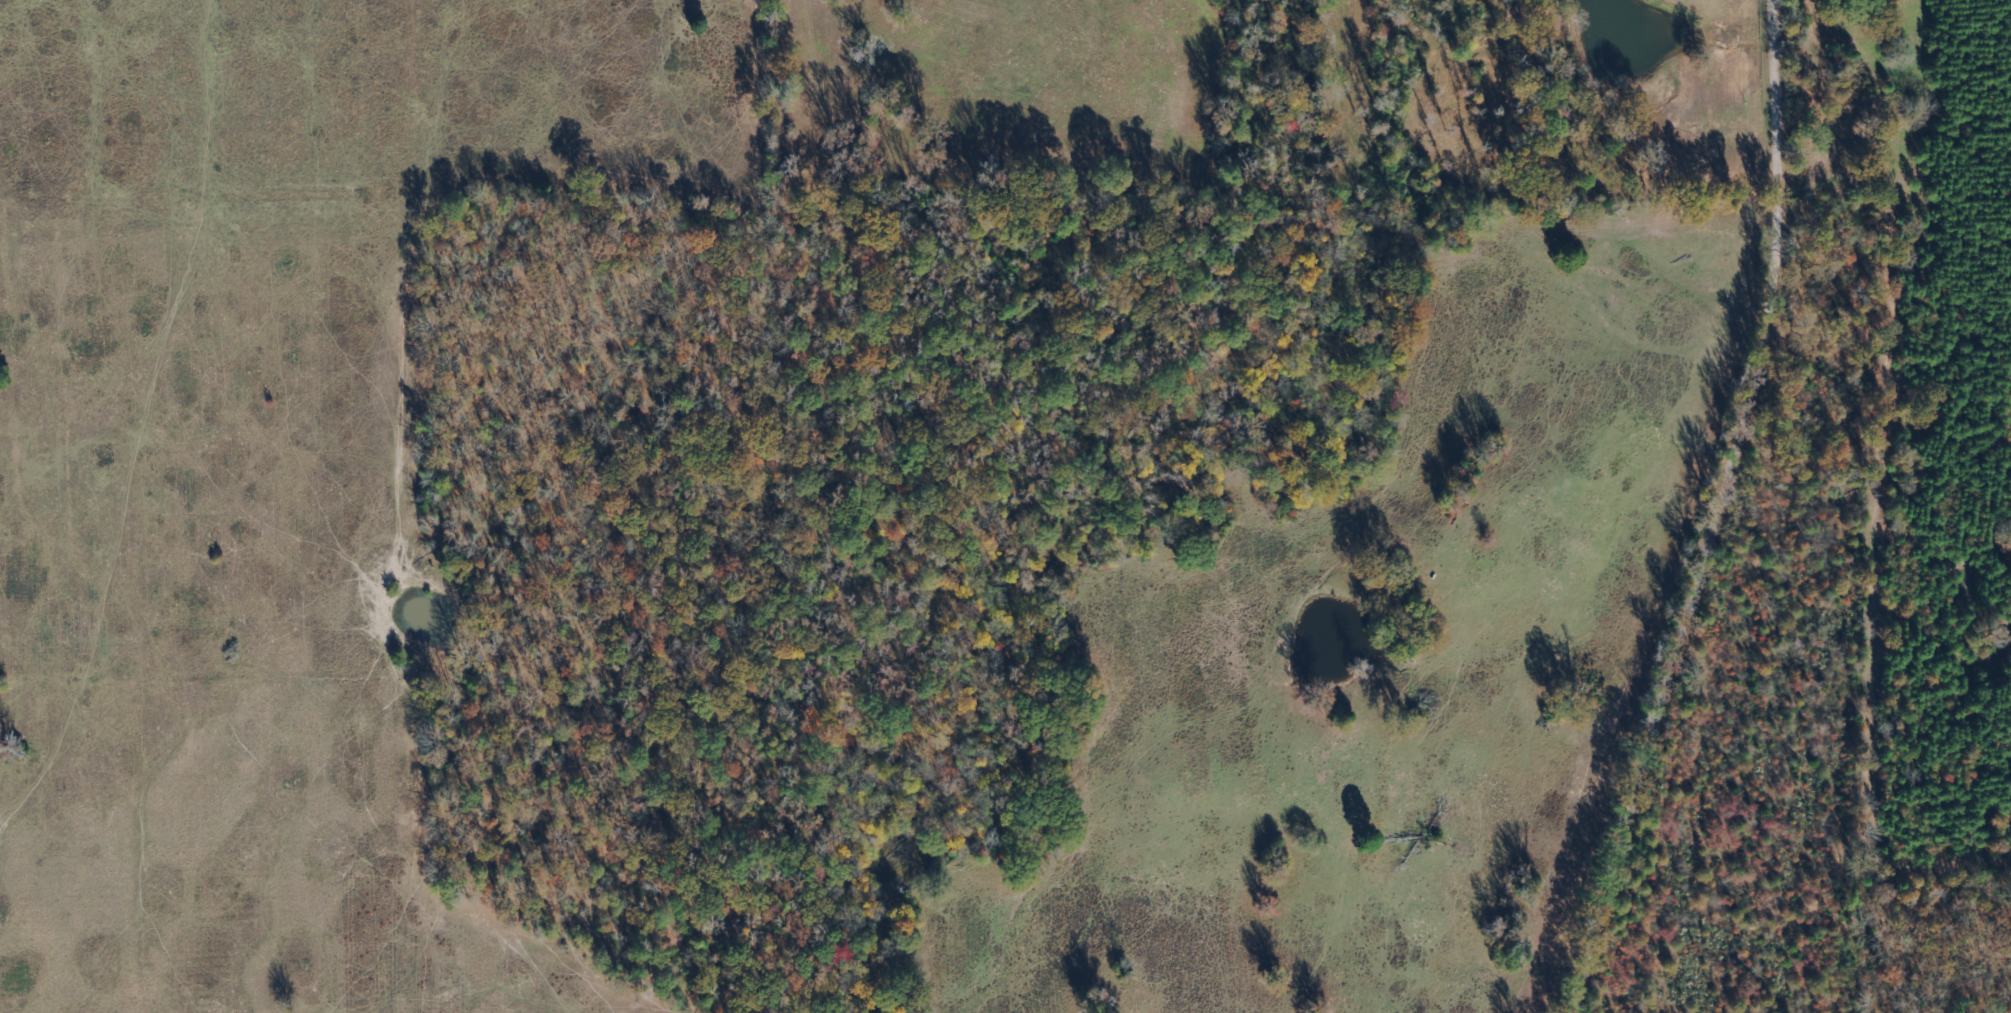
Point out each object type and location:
road: (1727, 513)

